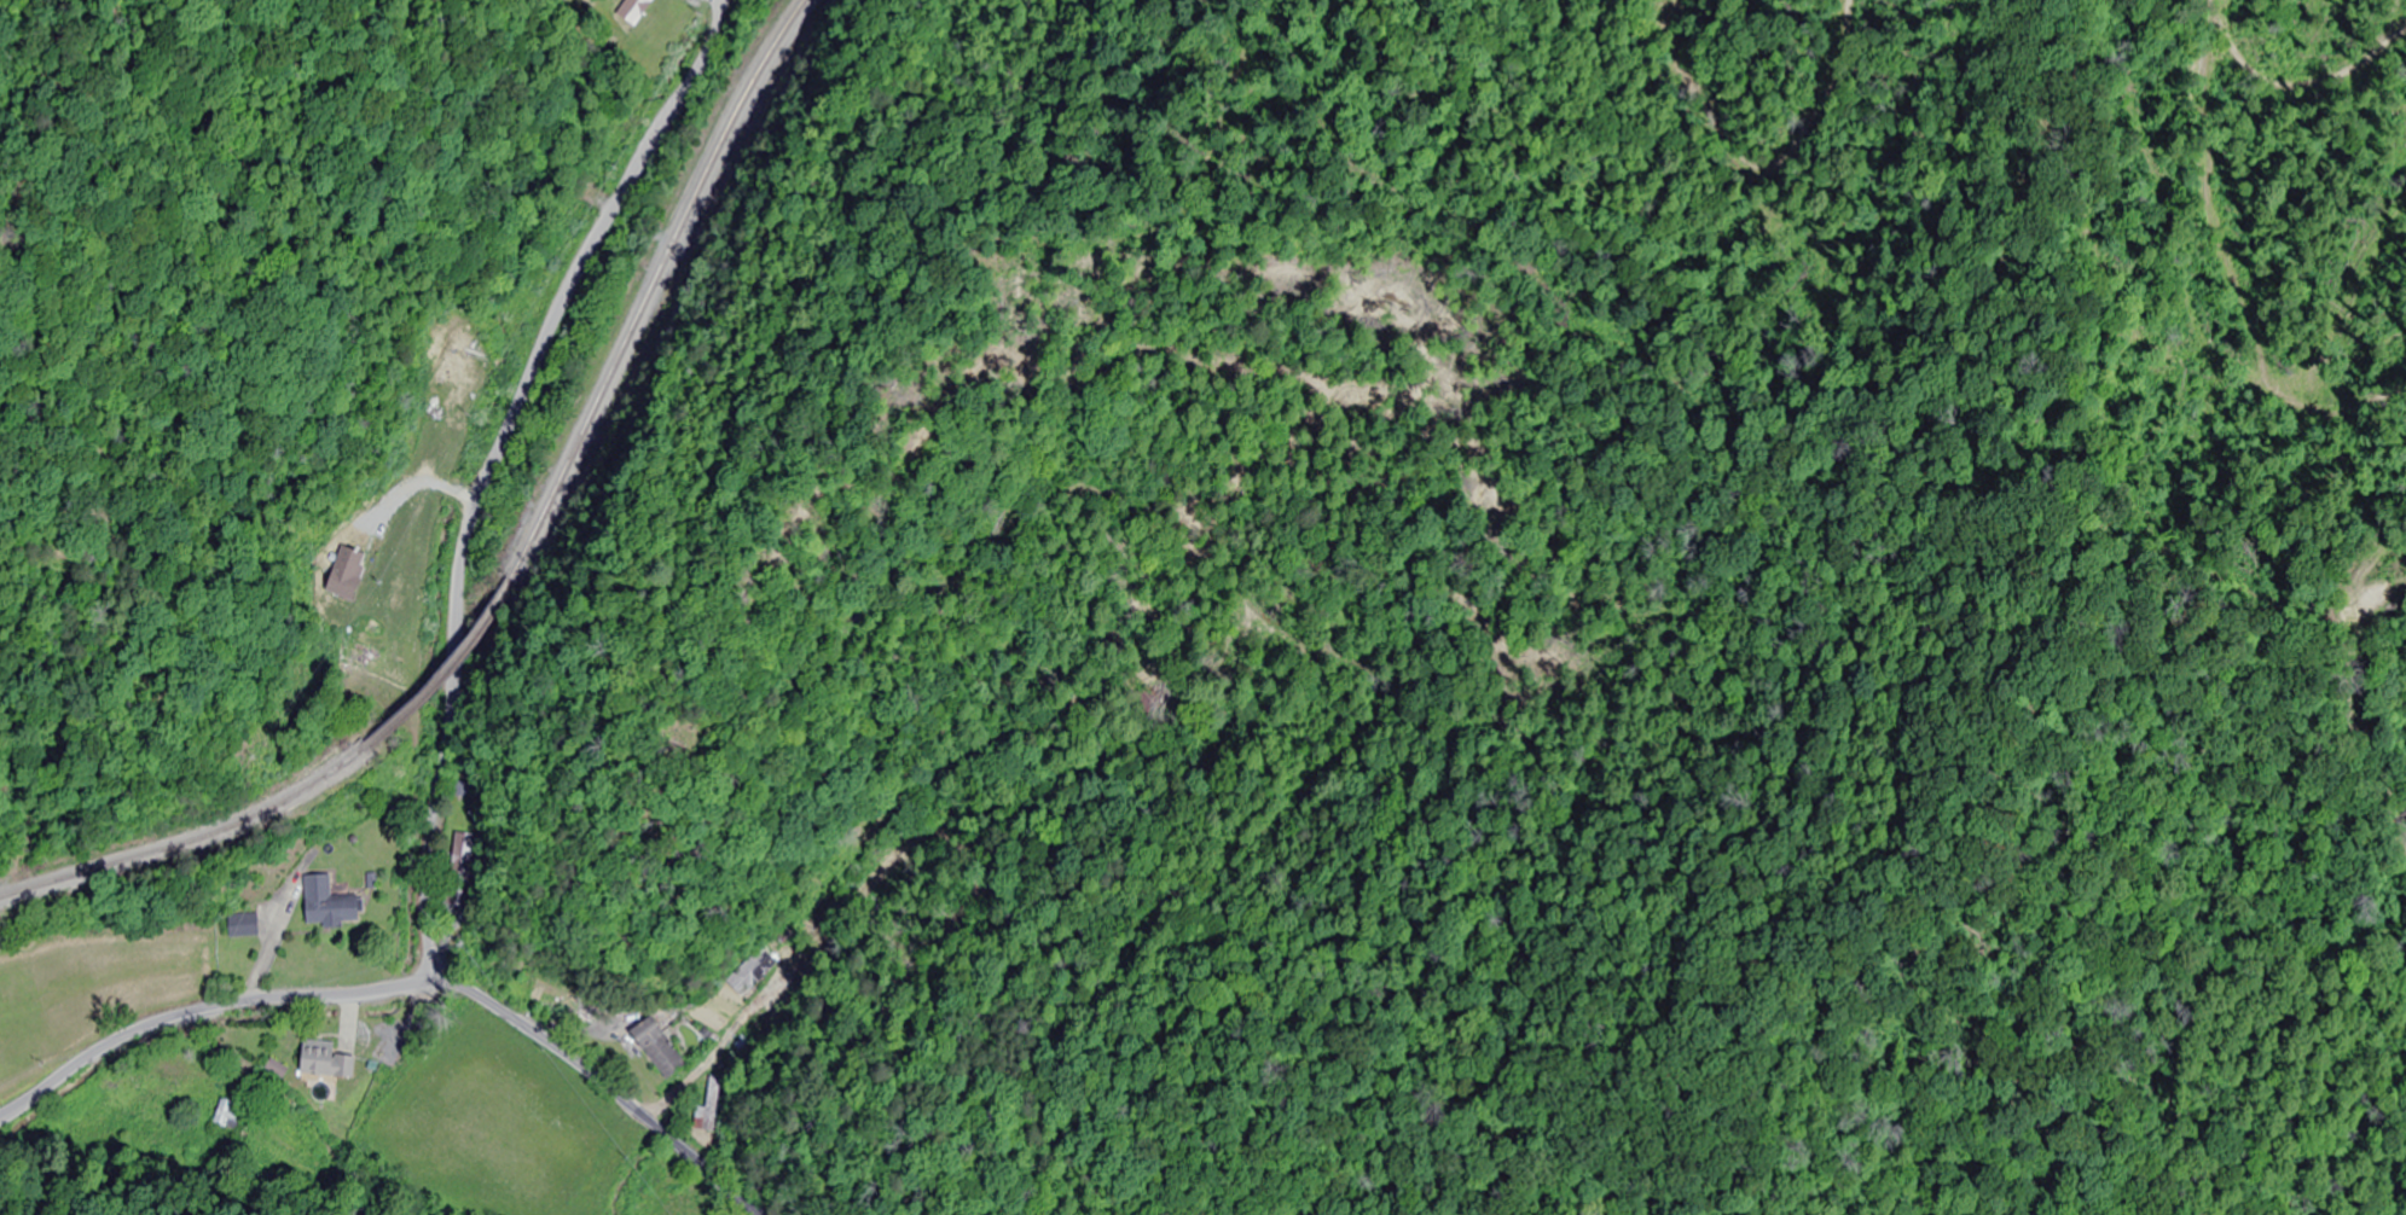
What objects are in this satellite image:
building: (637, 11)
railway: (654, 286)
road: (491, 461)
building: (367, 552)
building: (367, 661)
railway: (457, 672)
railway: (196, 842)
building: (460, 871)
building: (332, 905)
building: (248, 928)
building: (515, 971)
building: (756, 973)
road: (404, 982)
building: (665, 1050)
building: (327, 1062)
building: (709, 1111)
building: (228, 1121)

